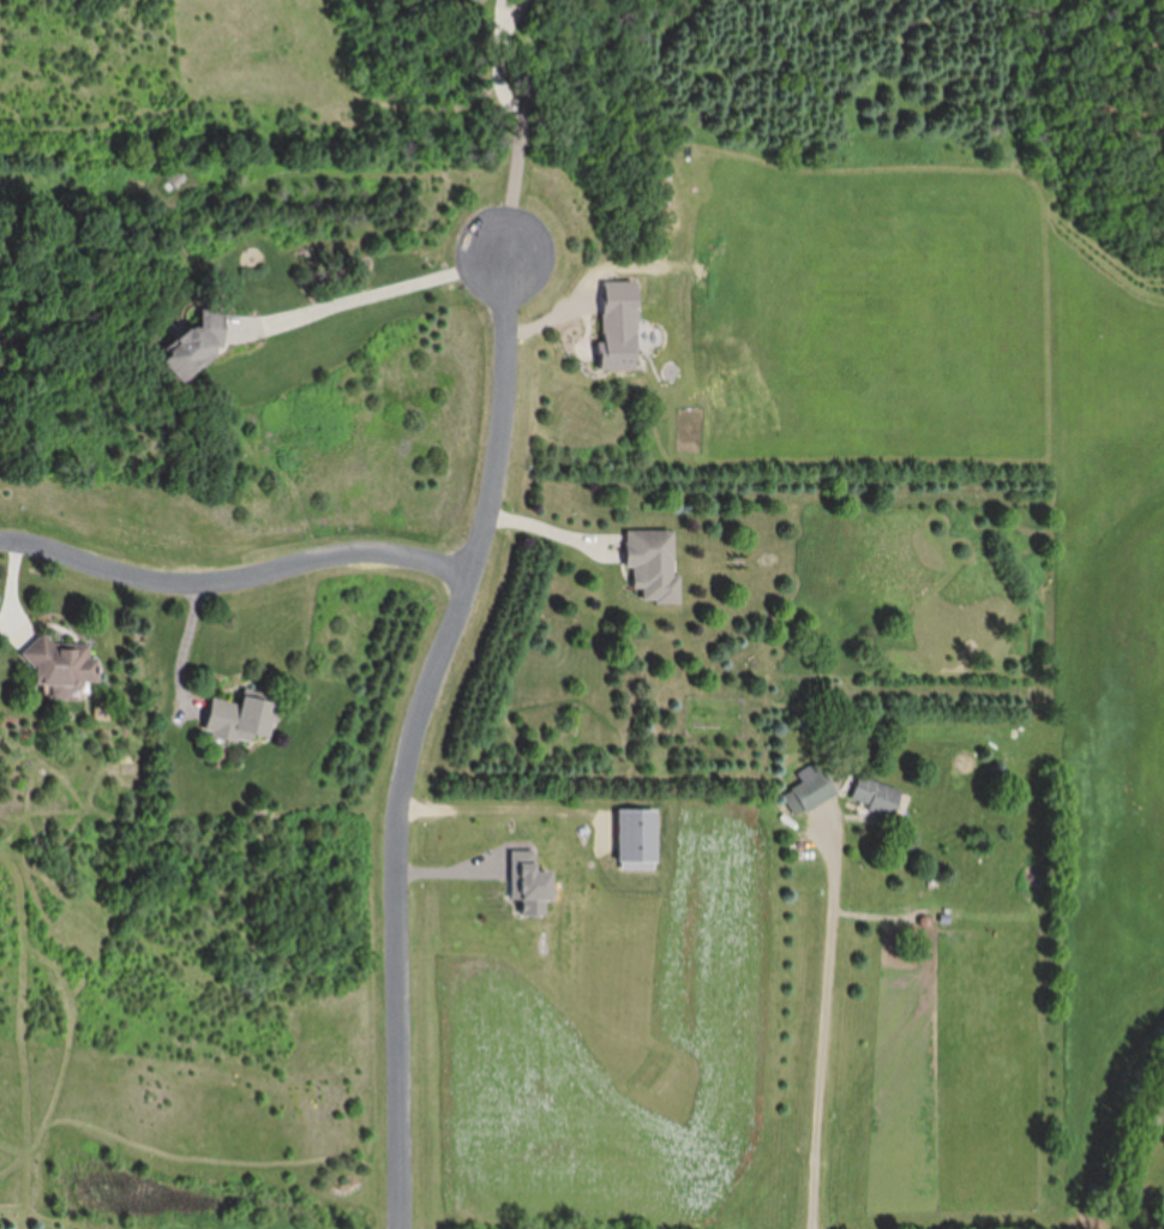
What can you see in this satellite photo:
building: (492, 0)
road: (524, 124)
road: (377, 293)
building: (196, 343)
road: (552, 530)
building: (653, 565)
road: (232, 575)
road: (12, 592)
road: (186, 645)
building: (64, 670)
building: (240, 718)
road: (410, 736)
building: (810, 790)
building: (876, 796)
road: (502, 810)
road: (823, 1020)

